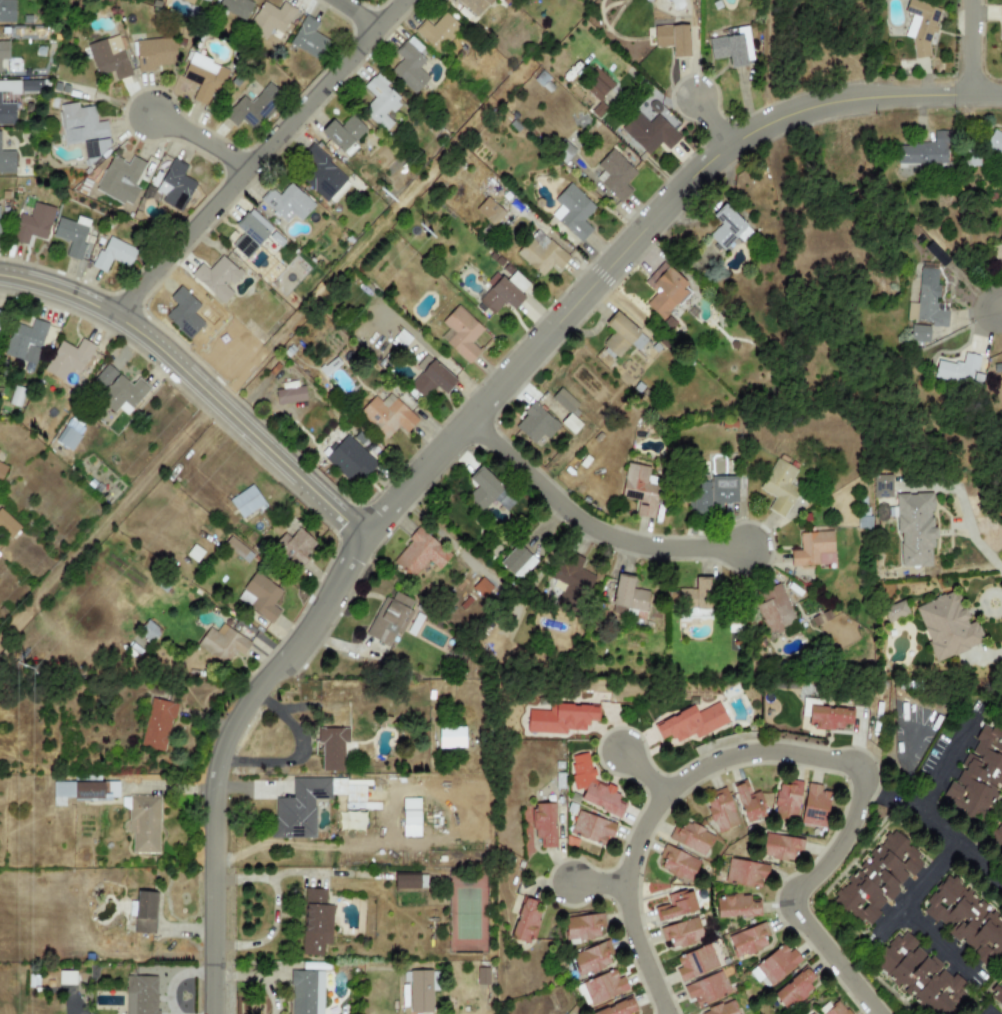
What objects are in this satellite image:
building: (205, 0)
building: (188, 1)
building: (474, 6)
building: (234, 7)
building: (6, 11)
road: (355, 14)
building: (269, 19)
building: (921, 25)
building: (437, 31)
building: (1001, 33)
building: (672, 37)
building: (307, 38)
road: (977, 45)
building: (732, 47)
building: (3, 50)
building: (154, 54)
building: (108, 57)
building: (409, 65)
building: (202, 78)
building: (9, 87)
building: (600, 90)
building: (379, 102)
building: (252, 107)
building: (7, 114)
road: (715, 119)
building: (80, 124)
road: (209, 131)
building: (343, 133)
building: (649, 133)
building: (0, 134)
building: (994, 141)
building: (93, 150)
building: (924, 151)
road: (259, 157)
building: (7, 161)
building: (321, 175)
building: (614, 175)
building: (120, 180)
building: (174, 186)
building: (287, 203)
building: (489, 211)
building: (572, 211)
building: (33, 224)
building: (727, 228)
building: (249, 233)
building: (72, 234)
building: (995, 251)
building: (541, 253)
building: (113, 254)
building: (217, 278)
building: (664, 289)
building: (503, 293)
building: (927, 300)
road: (1000, 309)
building: (183, 313)
building: (919, 333)
building: (461, 334)
building: (622, 336)
building: (25, 343)
building: (68, 359)
building: (957, 369)
building: (105, 376)
building: (429, 379)
road: (197, 380)
building: (290, 393)
building: (122, 394)
building: (563, 401)
building: (387, 415)
road: (463, 423)
building: (535, 424)
building: (69, 433)
building: (349, 459)
building: (2, 469)
building: (779, 486)
building: (482, 489)
building: (640, 489)
building: (724, 489)
building: (246, 501)
road: (962, 504)
road: (595, 517)
building: (7, 525)
building: (915, 529)
building: (295, 546)
building: (235, 548)
building: (813, 549)
building: (420, 554)
building: (517, 562)
building: (572, 580)
building: (481, 588)
building: (624, 593)
building: (695, 599)
building: (261, 600)
building: (774, 610)
building: (894, 612)
building: (459, 613)
building: (389, 619)
building: (947, 627)
building: (222, 644)
road: (984, 659)
building: (828, 718)
building: (560, 719)
building: (690, 723)
building: (157, 725)
building: (451, 738)
building: (332, 747)
road: (797, 749)
road: (296, 750)
road: (946, 762)
road: (643, 770)
building: (979, 775)
building: (593, 786)
building: (63, 790)
building: (95, 790)
building: (787, 800)
building: (814, 801)
building: (749, 802)
building: (299, 808)
building: (719, 810)
building: (1001, 820)
building: (143, 823)
building: (543, 824)
building: (600, 831)
road: (941, 832)
building: (780, 847)
building: (677, 863)
building: (745, 873)
building: (876, 878)
road: (602, 879)
building: (405, 880)
road: (912, 898)
building: (677, 904)
building: (734, 906)
building: (144, 912)
building: (966, 919)
building: (525, 920)
building: (315, 923)
building: (580, 928)
building: (681, 933)
road: (945, 939)
building: (747, 940)
building: (591, 958)
building: (694, 962)
building: (774, 965)
building: (919, 976)
building: (603, 986)
building: (706, 989)
building: (792, 989)
building: (420, 991)
building: (306, 992)
building: (141, 994)
building: (997, 994)
road: (991, 1006)
building: (615, 1007)
building: (719, 1009)
building: (832, 1009)
building: (812, 1013)

